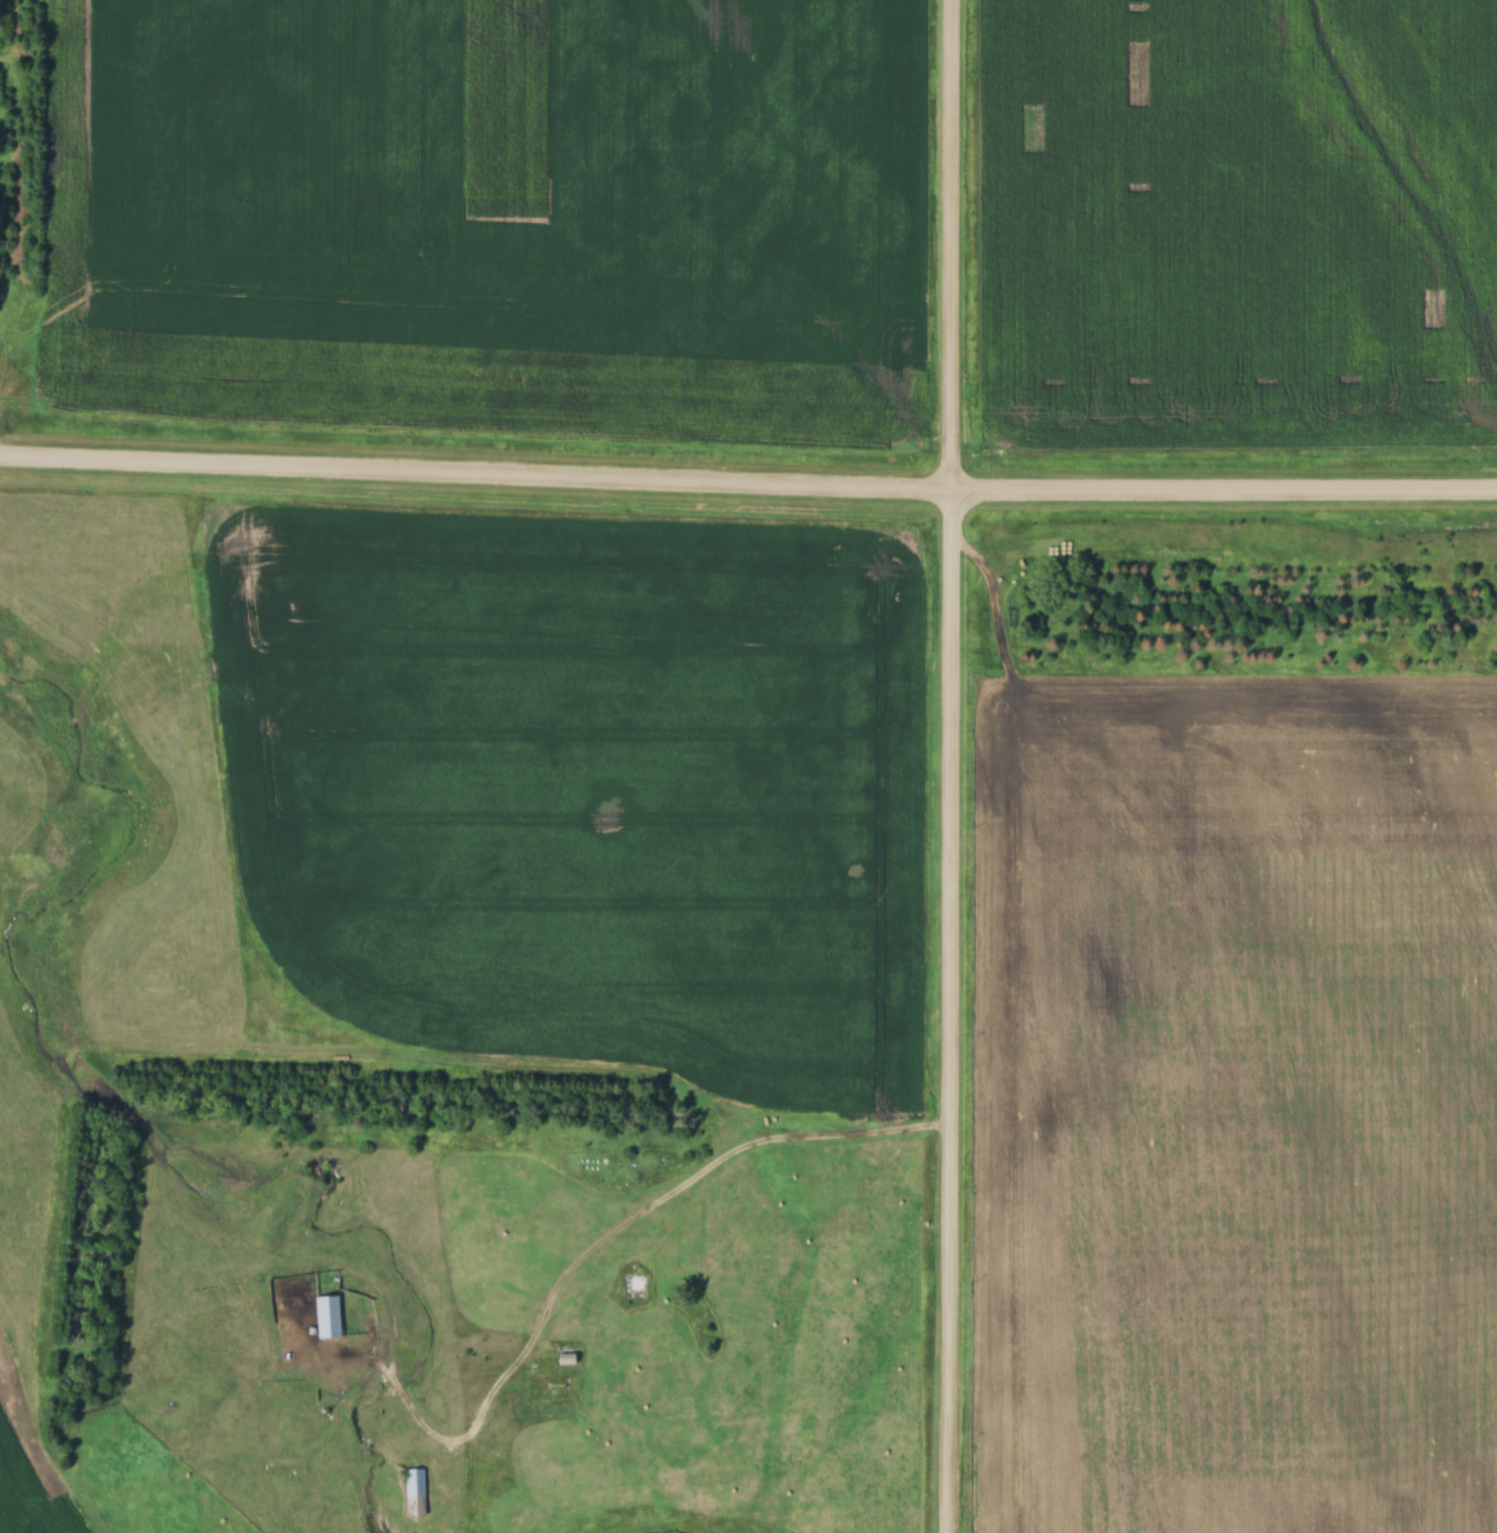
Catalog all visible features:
road: (748, 486)
road: (949, 766)
building: (634, 1179)
building: (328, 1317)
building: (567, 1360)
building: (413, 1491)

